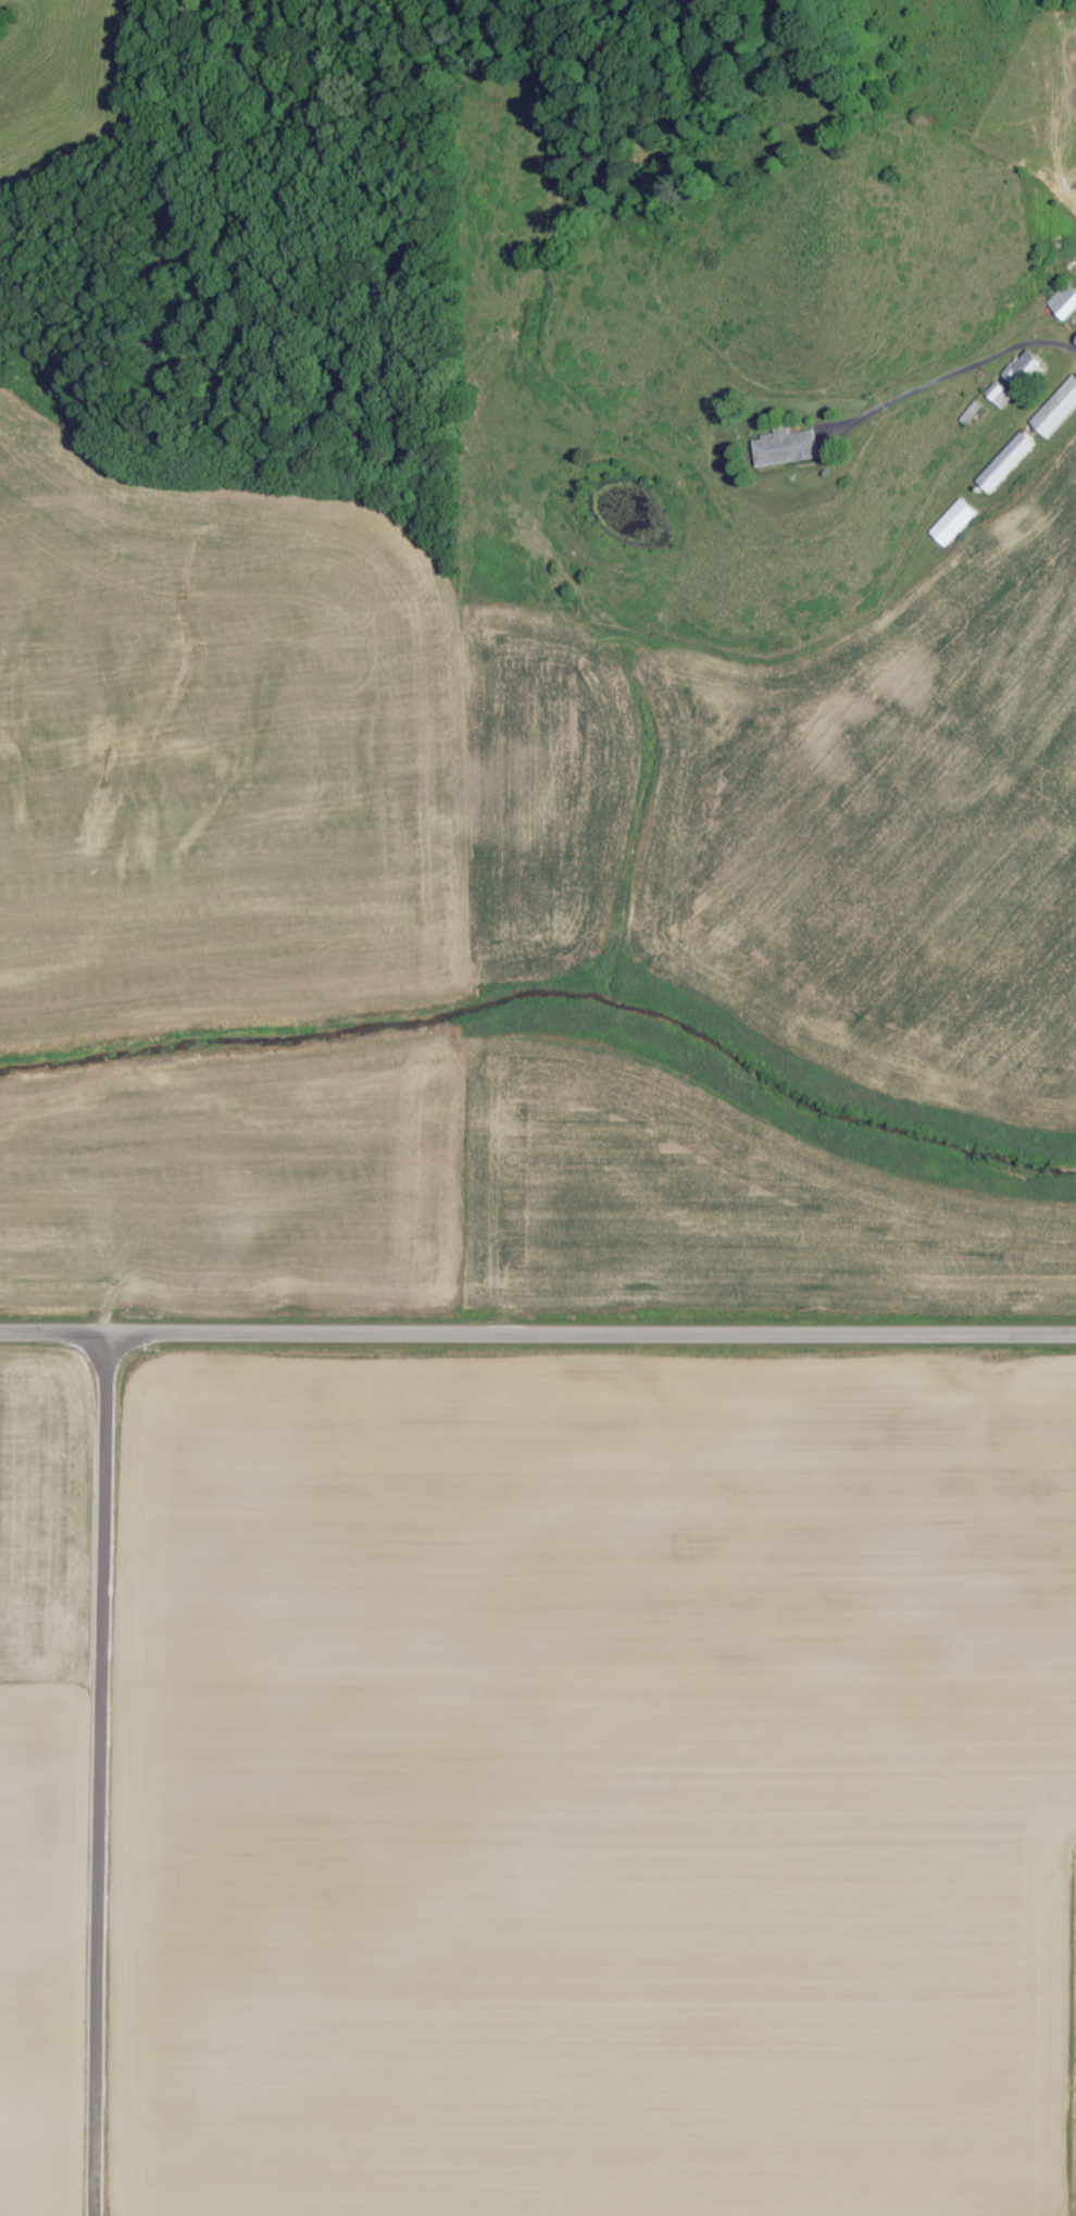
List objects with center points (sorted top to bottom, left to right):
building: (1062, 299)
building: (1075, 339)
building: (1021, 366)
road: (951, 375)
building: (997, 394)
building: (1055, 408)
building: (783, 447)
building: (1003, 461)
building: (950, 521)
road: (537, 1332)
road: (98, 1773)

